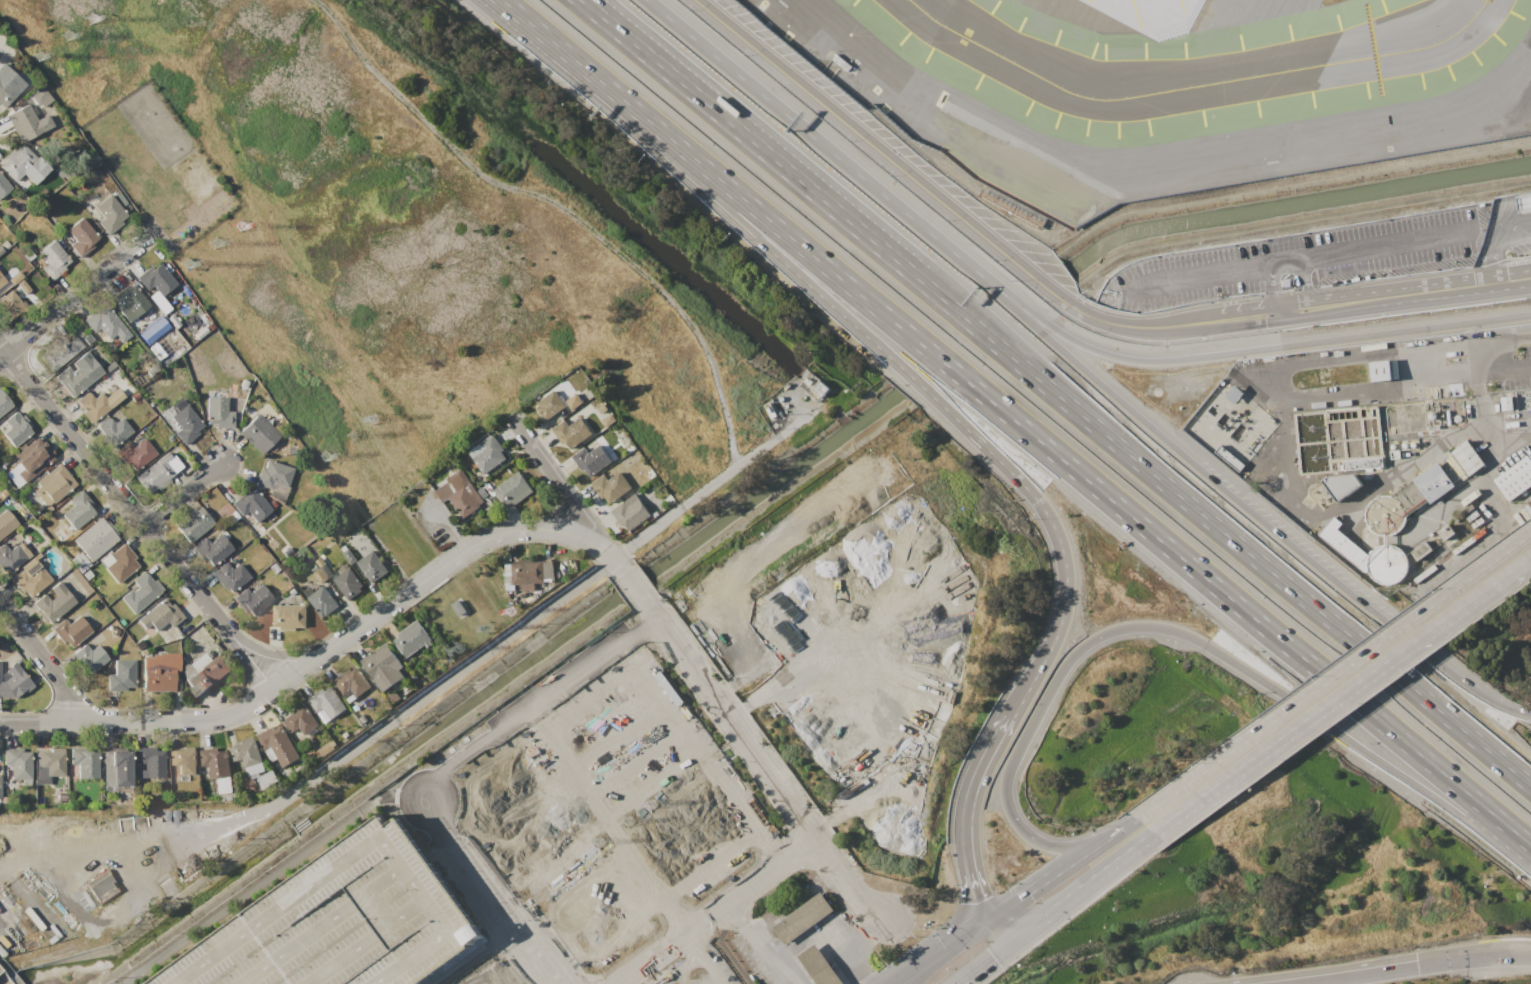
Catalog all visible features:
road: (517, 15)
power tower: (95, 20)
power tower: (69, 37)
road: (752, 47)
street lamp: (738, 49)
power tower: (41, 58)
airport taxiway: (1194, 82)
airport: (1162, 88)
building: (5, 91)
building: (38, 93)
building: (27, 121)
road: (644, 134)
street lamp: (846, 142)
road: (820, 143)
building: (19, 163)
road: (794, 176)
street lamp: (889, 176)
building: (3, 185)
road: (1523, 202)
building: (1524, 202)
road: (560, 205)
building: (109, 213)
road: (1500, 219)
street lamp: (943, 220)
power tower: (244, 231)
building: (80, 237)
park: (389, 241)
power tower: (217, 243)
road: (1498, 245)
building: (0, 249)
road: (1384, 249)
road: (998, 250)
building: (53, 259)
street lamp: (991, 259)
parking lot: (1299, 259)
building: (16, 260)
power tower: (190, 263)
road: (1283, 265)
building: (156, 278)
building: (1, 280)
road: (1191, 280)
road: (1507, 280)
street lamp: (1010, 281)
building: (23, 284)
road: (1304, 285)
road: (1269, 290)
road: (1430, 291)
road: (74, 294)
building: (128, 301)
building: (158, 301)
street lamp: (1043, 301)
road: (1343, 303)
building: (10, 304)
road: (1290, 310)
road: (1246, 317)
building: (106, 323)
road: (849, 325)
building: (152, 328)
building: (82, 334)
road: (1066, 336)
road: (1340, 340)
building: (58, 350)
road: (1484, 354)
road: (1506, 364)
building: (1379, 370)
building: (73, 378)
building: (813, 386)
building: (1232, 394)
road: (1300, 399)
building: (1505, 402)
building: (3, 403)
building: (574, 403)
building: (92, 404)
building: (550, 406)
building: (215, 408)
building: (181, 418)
building: (607, 420)
power tower: (381, 421)
building: (14, 429)
building: (112, 429)
building: (257, 430)
building: (571, 431)
road: (1034, 436)
power tower: (355, 437)
building: (134, 450)
building: (35, 454)
building: (486, 454)
road: (1494, 454)
road: (538, 455)
building: (1228, 457)
building: (1468, 457)
power tower: (329, 458)
building: (591, 459)
wastewater plant: (1340, 459)
building: (1360, 462)
building: (157, 471)
building: (272, 473)
building: (1515, 478)
building: (54, 482)
road: (1022, 484)
building: (610, 486)
building: (1332, 486)
road: (113, 490)
building: (513, 491)
building: (461, 493)
road: (182, 494)
road: (1447, 496)
building: (1404, 500)
building: (251, 503)
road: (1343, 504)
building: (76, 508)
building: (629, 513)
road: (1253, 513)
road: (562, 517)
street lamp: (1028, 519)
road: (585, 520)
building: (5, 521)
building: (192, 522)
road: (575, 525)
building: (59, 535)
road: (574, 536)
building: (94, 539)
building: (212, 549)
building: (1367, 554)
building: (9, 555)
building: (350, 556)
road: (613, 558)
building: (78, 560)
building: (120, 562)
building: (372, 567)
building: (273, 569)
road: (1269, 570)
road: (607, 571)
building: (324, 574)
building: (86, 575)
building: (527, 575)
building: (229, 577)
road: (431, 577)
building: (29, 579)
building: (349, 584)
road: (633, 586)
building: (139, 592)
road: (624, 593)
building: (252, 600)
building: (323, 602)
building: (51, 603)
road: (1466, 605)
power tower: (513, 609)
building: (159, 618)
building: (289, 618)
power tower: (491, 627)
building: (70, 630)
building: (413, 638)
road: (1198, 641)
power tower: (462, 648)
road: (1047, 651)
building: (90, 655)
road: (276, 655)
road: (480, 655)
road: (250, 661)
building: (379, 662)
road: (46, 663)
road: (302, 669)
building: (120, 674)
building: (206, 674)
road: (1335, 674)
building: (158, 678)
building: (350, 682)
building: (14, 683)
road: (544, 698)
building: (327, 702)
road: (1348, 708)
road: (713, 718)
building: (300, 719)
road: (140, 721)
road: (729, 721)
road: (1279, 743)
building: (276, 745)
building: (325, 749)
building: (247, 755)
building: (50, 762)
building: (182, 762)
building: (215, 762)
building: (16, 764)
building: (83, 764)
building: (150, 764)
building: (116, 770)
road: (982, 770)
road: (413, 781)
power tower: (652, 805)
power tower: (630, 822)
road: (1117, 832)
power tower: (602, 844)
road: (802, 844)
road: (464, 846)
road: (400, 847)
road: (371, 848)
road: (435, 852)
road: (459, 852)
road: (420, 859)
road: (454, 867)
road: (972, 874)
road: (1043, 880)
road: (261, 881)
road: (457, 882)
road: (848, 884)
road: (444, 893)
road: (839, 893)
traffic signals: (1020, 896)
traffic signals: (981, 898)
road: (506, 900)
road: (392, 905)
road: (1056, 908)
road: (851, 909)
road: (1073, 913)
road: (489, 917)
building: (801, 918)
road: (528, 919)
road: (844, 919)
road: (1020, 919)
building: (345, 922)
parking lot: (345, 922)
road: (505, 926)
road: (829, 931)
building: (591, 936)
road: (304, 943)
road: (809, 945)
road: (840, 946)
road: (543, 947)
road: (948, 950)
road: (770, 953)
building: (829, 954)
traffic signals: (995, 956)
road: (1527, 957)
road: (351, 960)
road: (820, 960)
road: (850, 960)
road: (1470, 961)
road: (456, 962)
road: (524, 967)
road: (559, 969)
traffic signals: (1418, 970)
road: (838, 973)
road: (7, 974)
building: (440, 974)
building: (494, 974)
road: (831, 975)
road: (1364, 977)
road: (857, 980)
railway: (1, 982)

